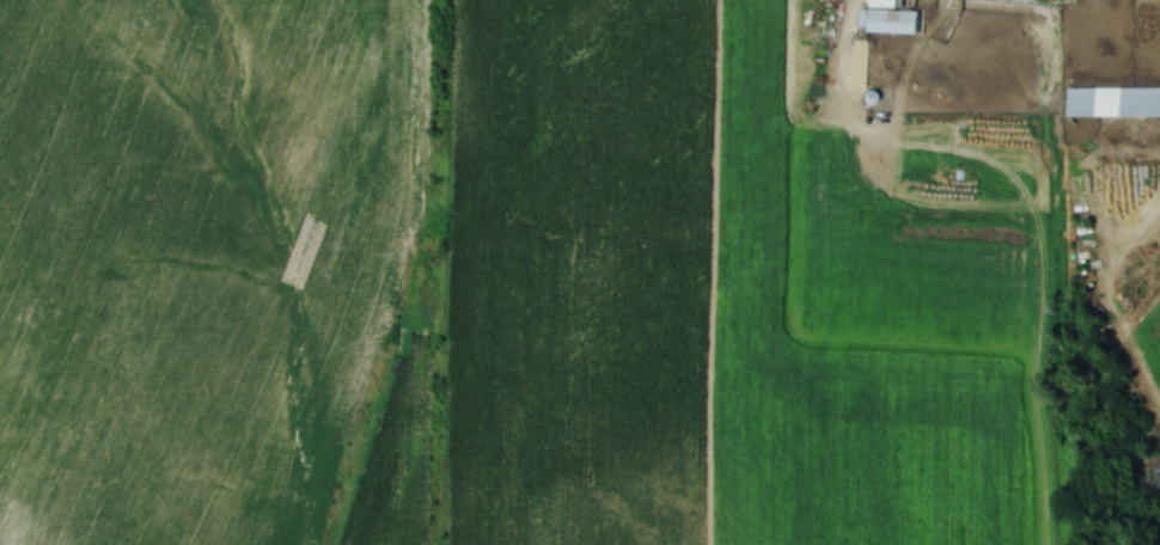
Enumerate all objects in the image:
building: (896, 18)
building: (1113, 99)

